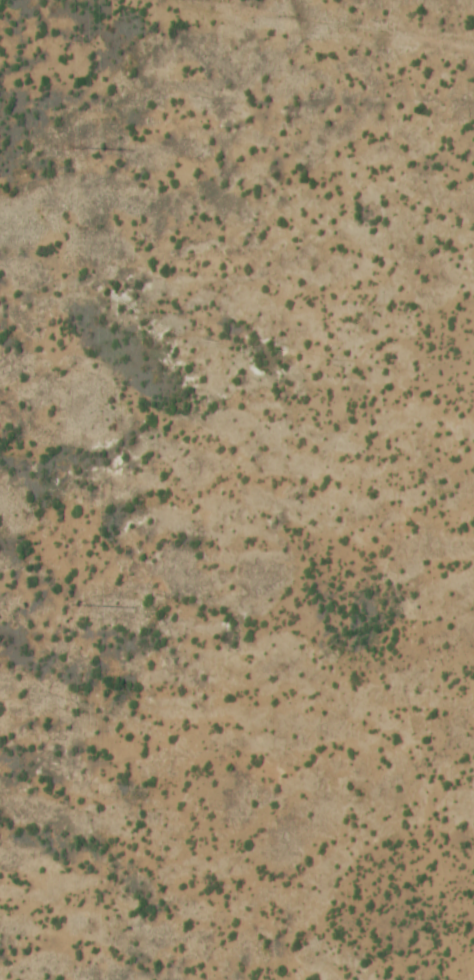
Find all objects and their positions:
power tower: (76, 147)
power tower: (78, 605)

